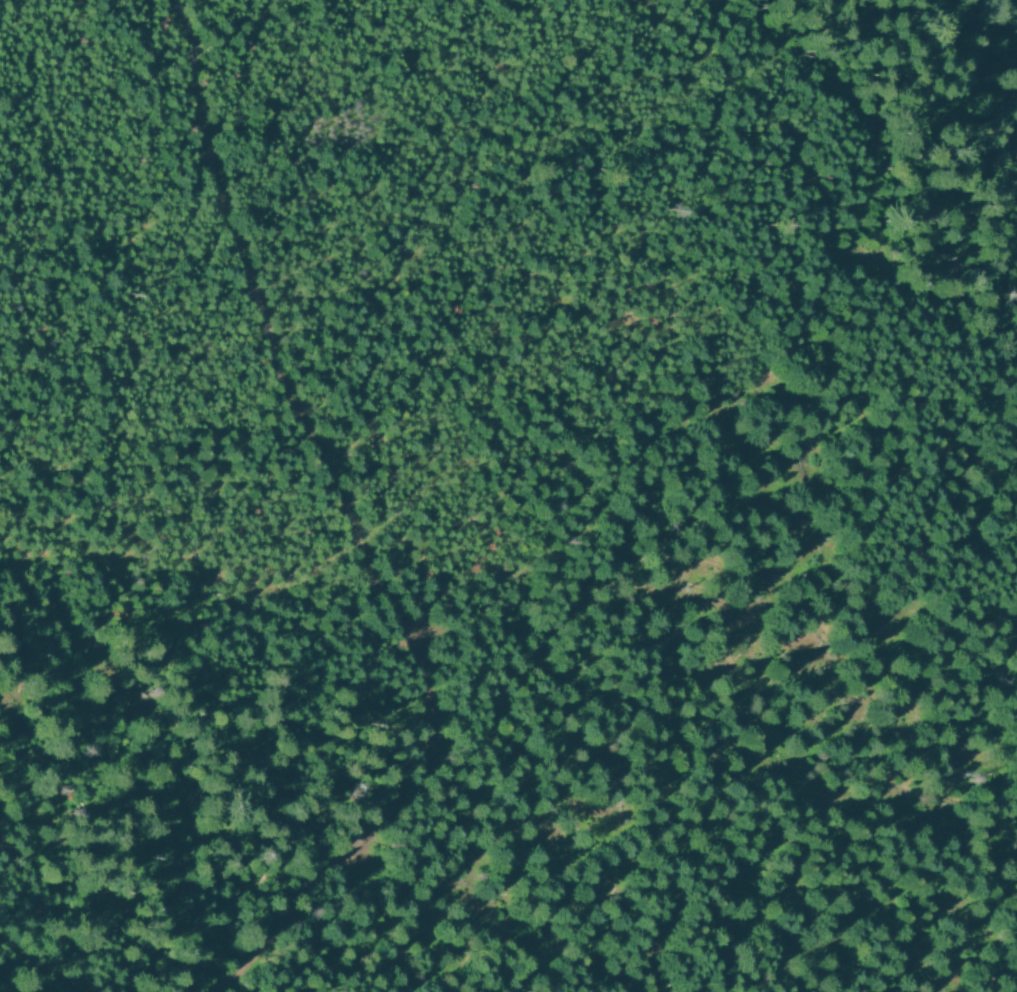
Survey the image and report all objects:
road: (40, 967)

